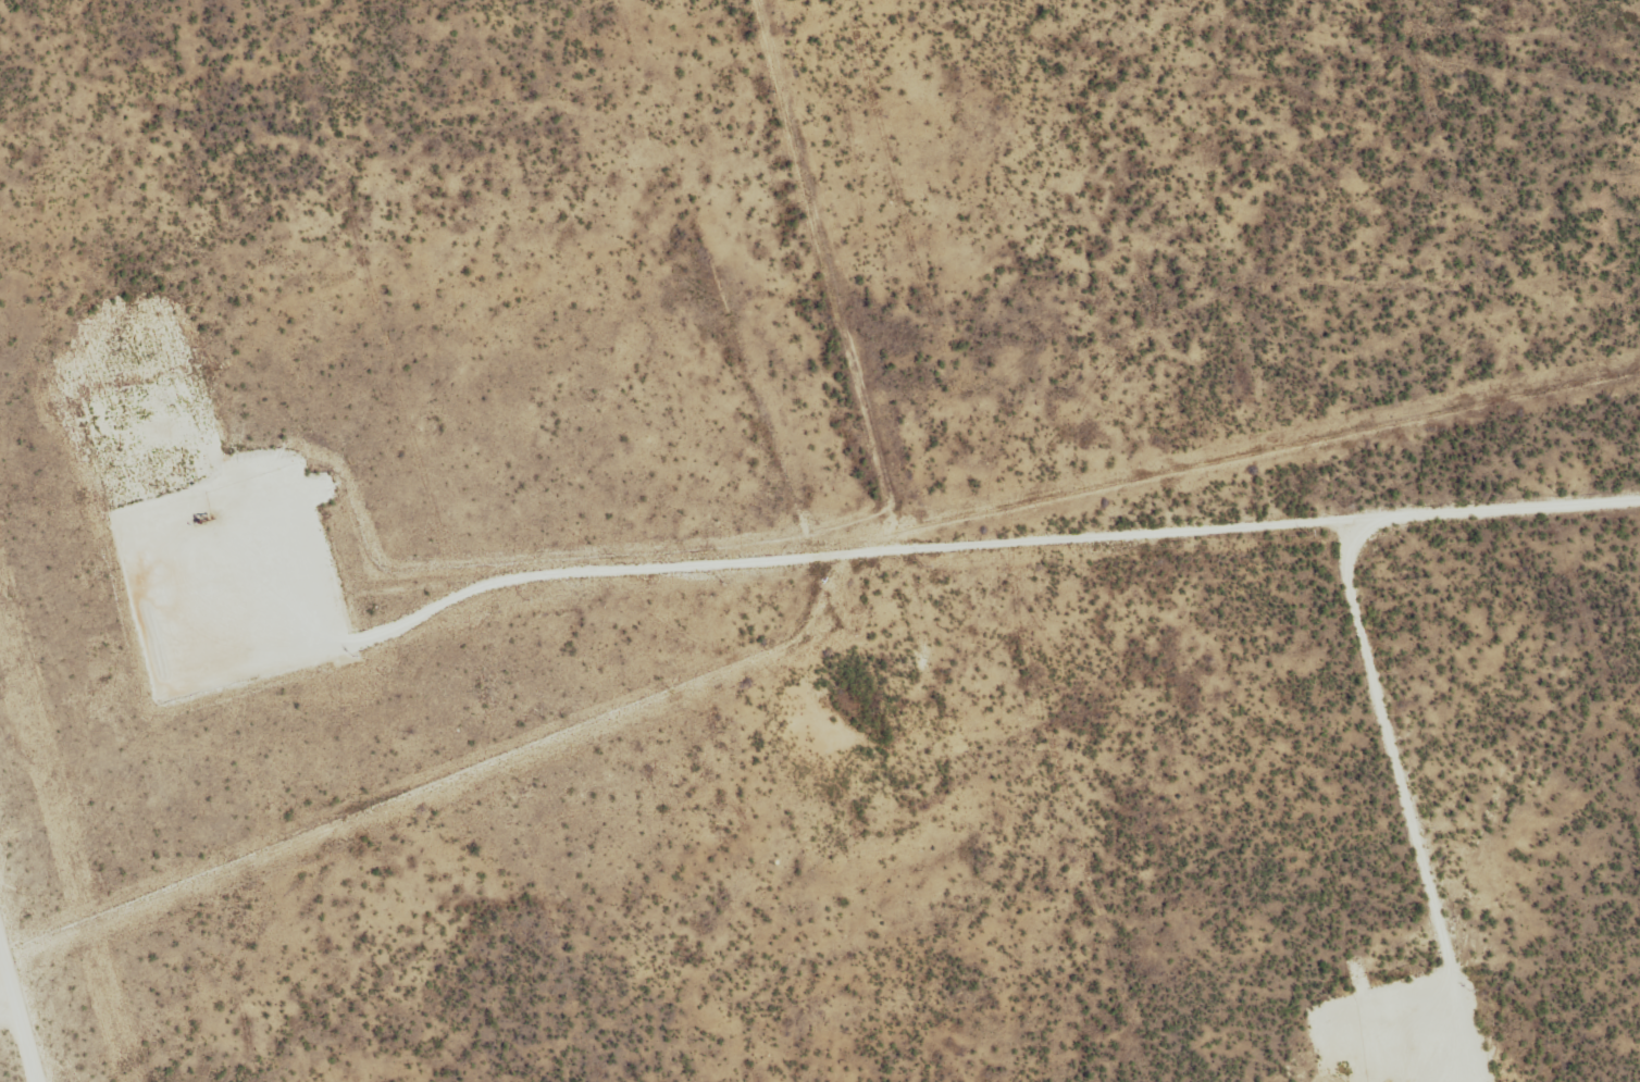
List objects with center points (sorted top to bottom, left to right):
road: (879, 315)
road: (4, 943)
road: (22, 999)

